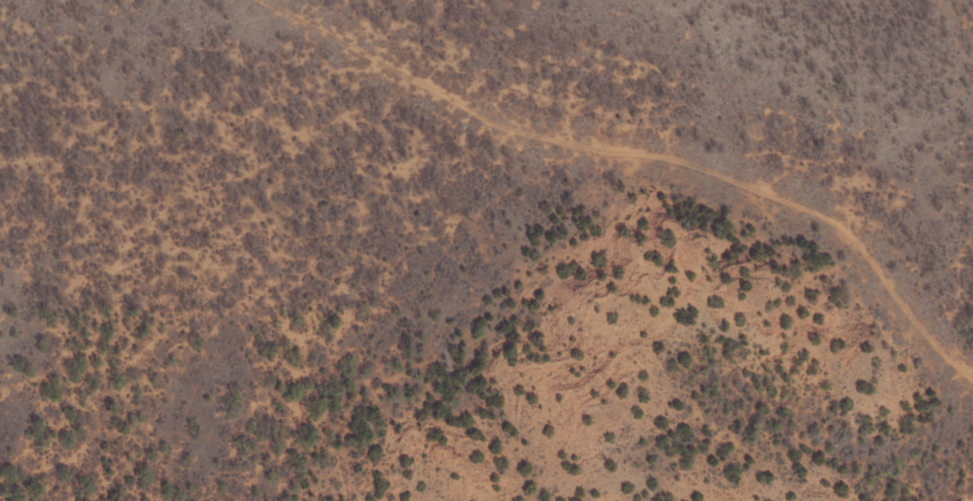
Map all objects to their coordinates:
road: (640, 164)

